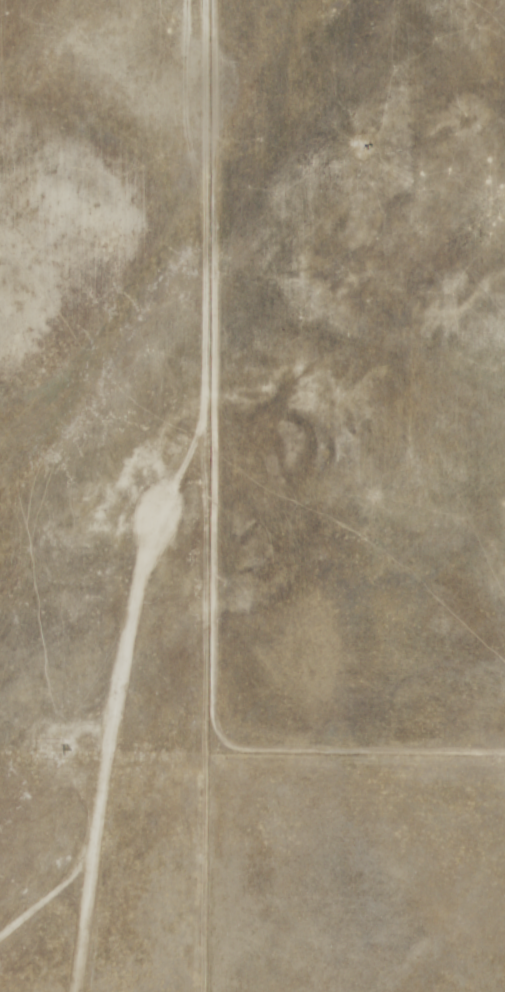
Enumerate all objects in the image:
airport runway: (104, 751)
airport taxiway: (46, 893)

